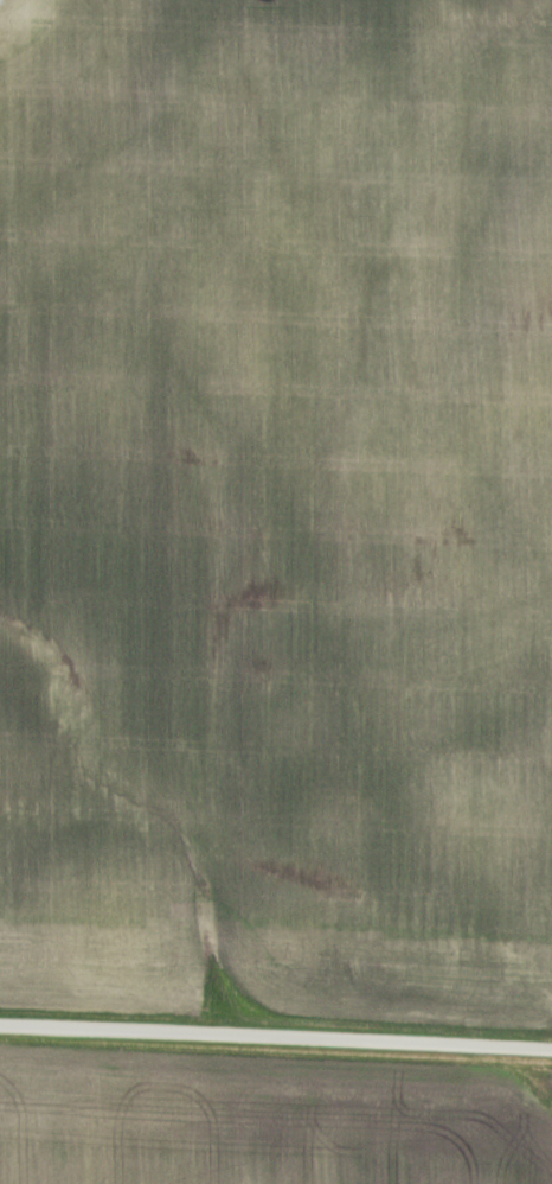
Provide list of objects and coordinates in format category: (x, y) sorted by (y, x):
road: (276, 1037)

